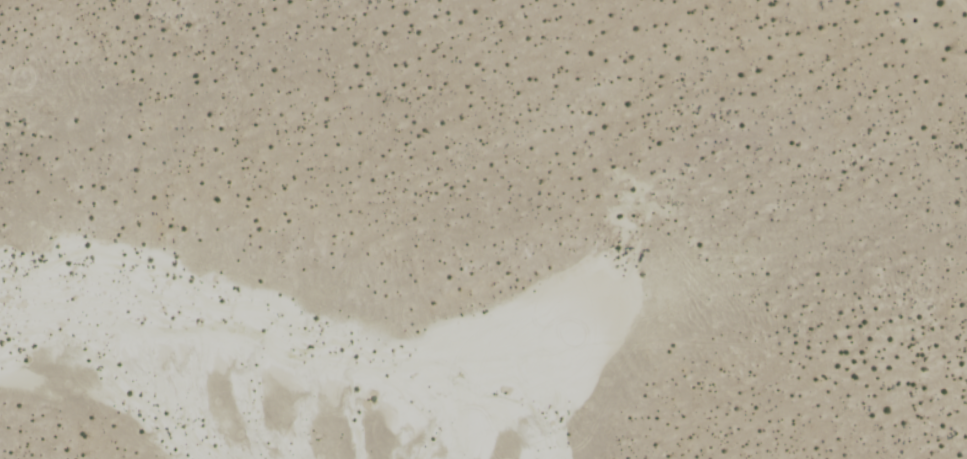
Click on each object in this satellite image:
road: (954, 12)

